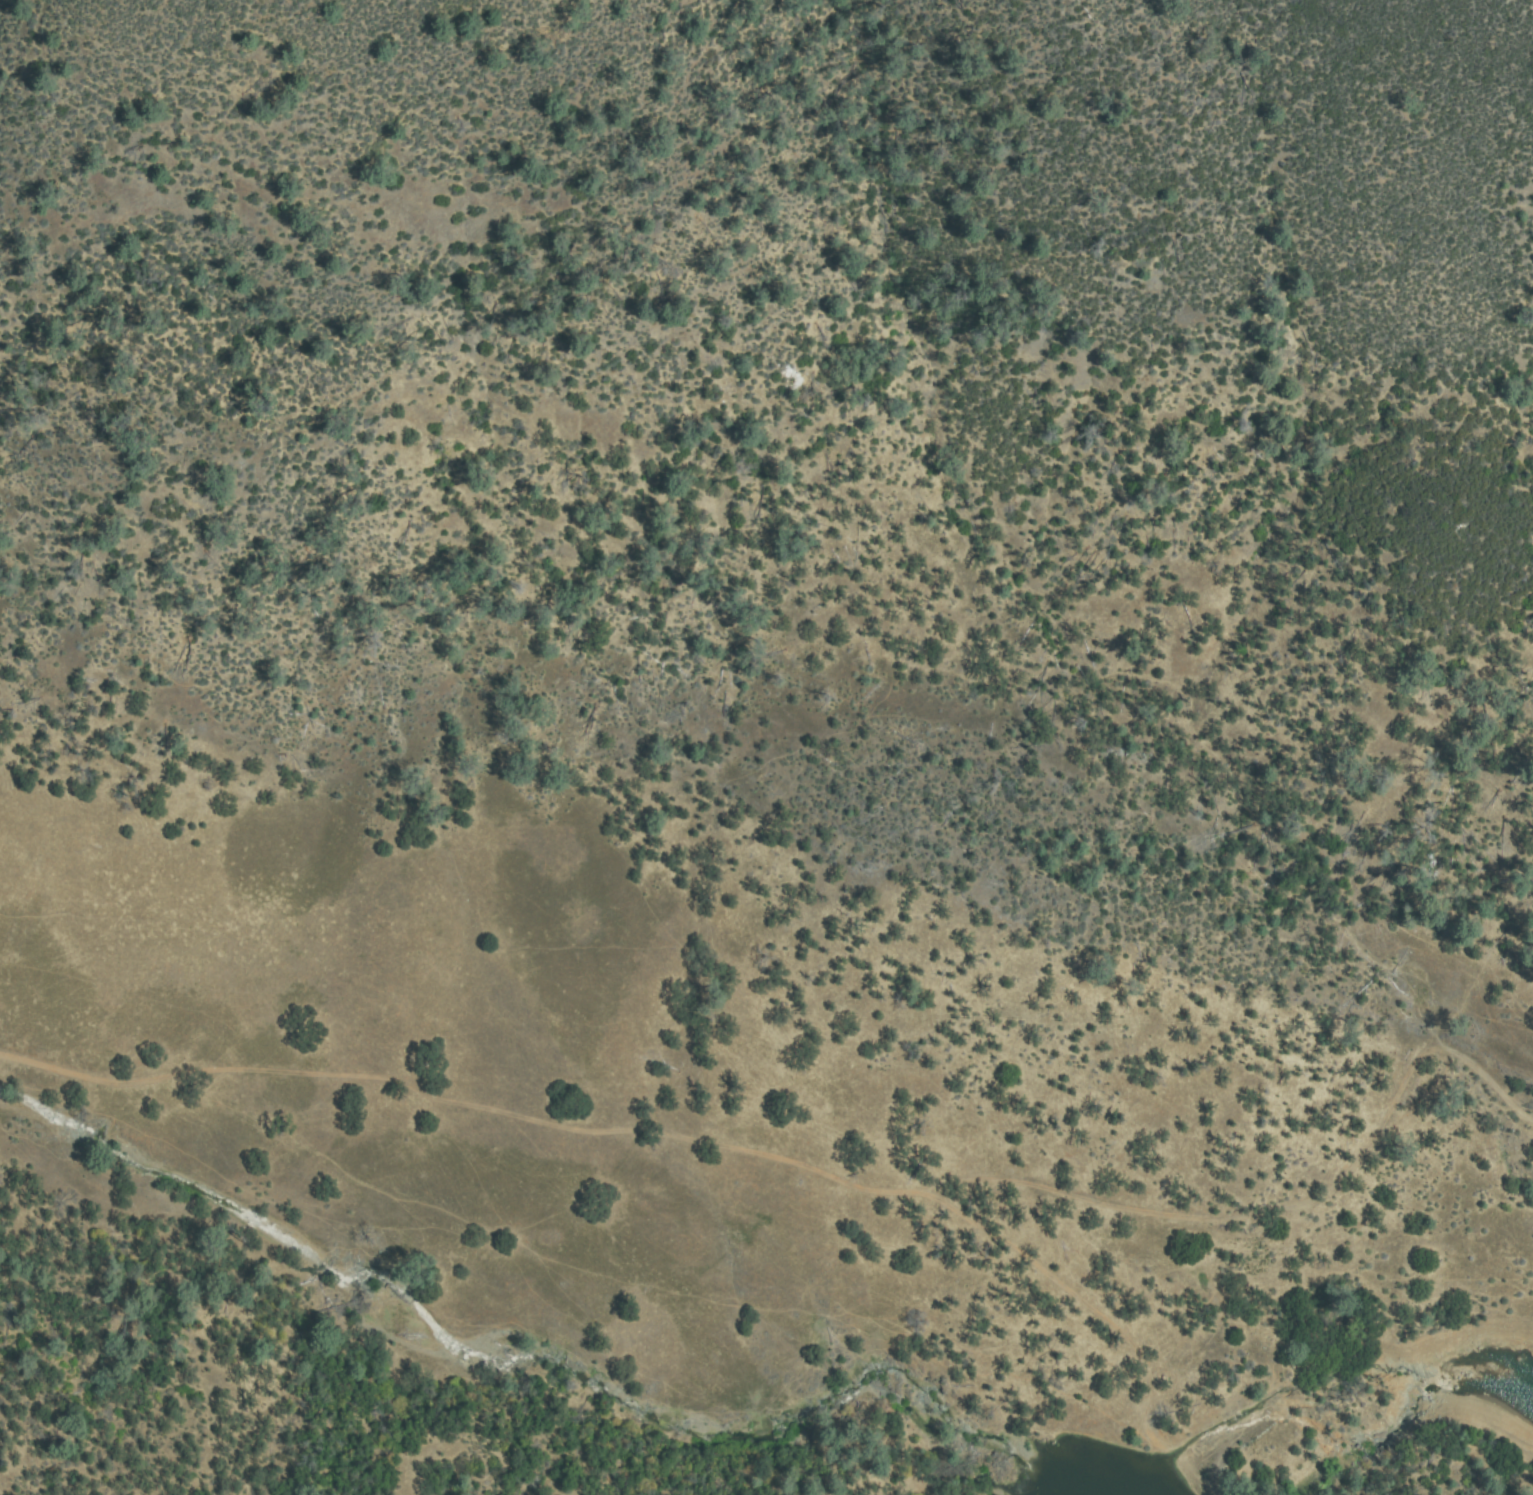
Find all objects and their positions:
road: (809, 1163)

